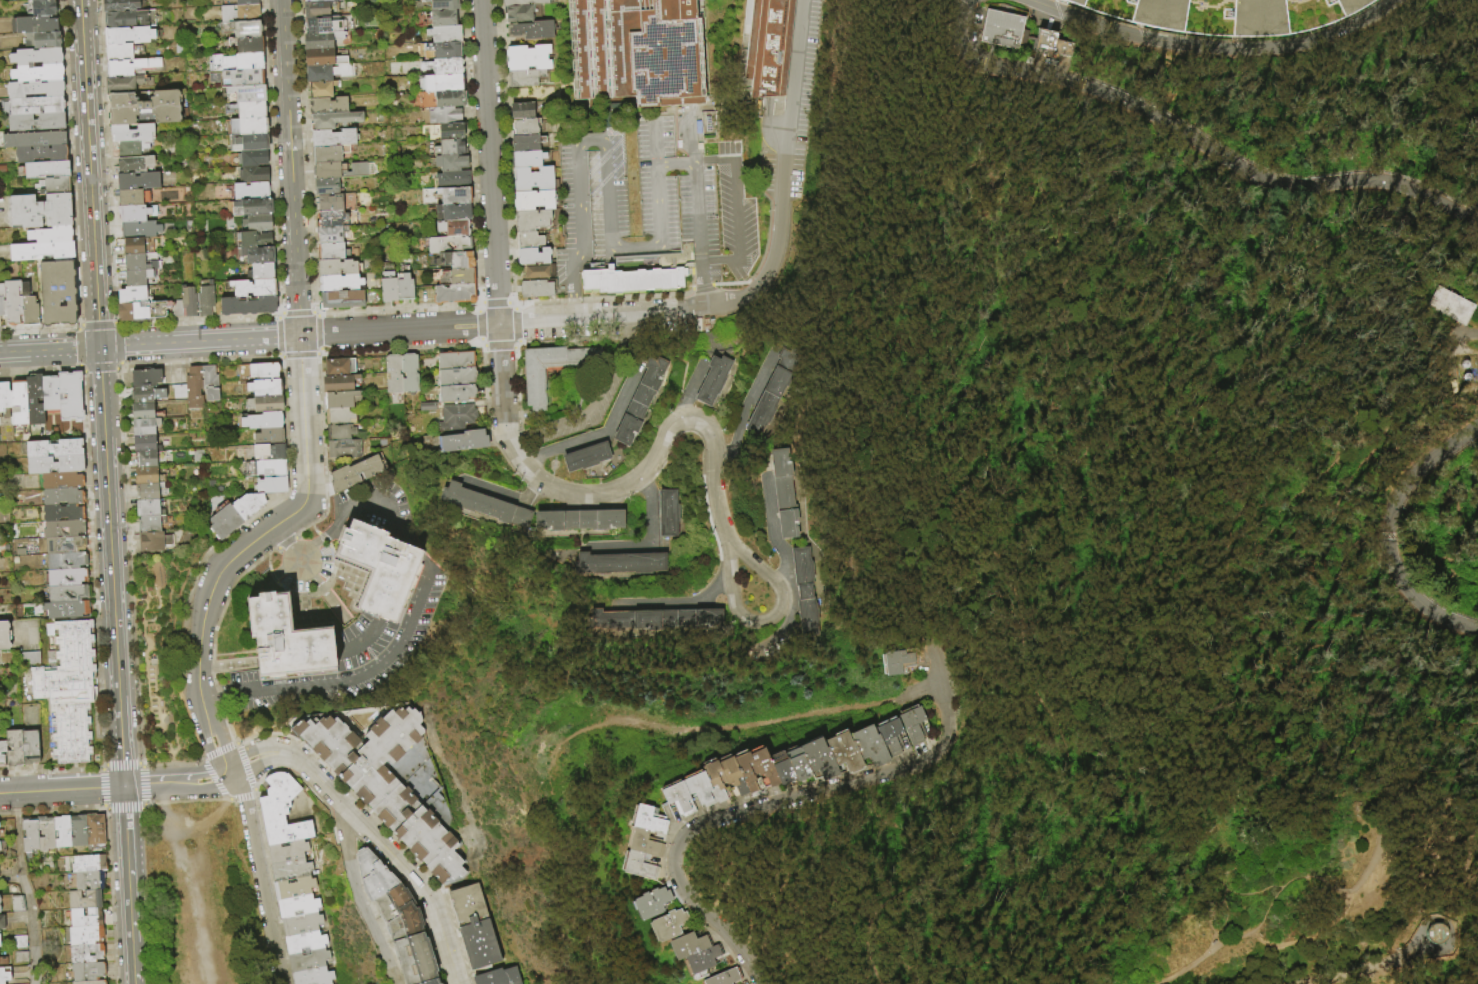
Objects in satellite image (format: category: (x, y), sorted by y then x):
building: (316, 0)
building: (524, 2)
building: (243, 3)
building: (441, 4)
building: (119, 5)
building: (43, 7)
building: (315, 9)
building: (518, 13)
building: (1320, 13)
building: (237, 14)
building: (1199, 16)
building: (128, 18)
building: (439, 19)
building: (33, 24)
building: (318, 25)
building: (243, 29)
building: (1002, 29)
building: (531, 30)
building: (127, 34)
building: (442, 34)
building: (41, 39)
building: (319, 41)
building: (1054, 44)
building: (244, 45)
road: (1213, 45)
building: (766, 46)
building: (444, 50)
road: (782, 50)
building: (118, 51)
building: (632, 51)
building: (36, 56)
building: (528, 57)
building: (320, 59)
building: (1029, 61)
building: (235, 62)
building: (130, 65)
building: (441, 67)
building: (37, 73)
building: (316, 74)
road: (565, 76)
building: (525, 77)
building: (236, 78)
building: (122, 83)
building: (441, 84)
building: (35, 88)
building: (319, 89)
building: (245, 94)
road: (1117, 97)
road: (515, 98)
building: (441, 100)
building: (35, 105)
building: (326, 106)
building: (143, 107)
building: (247, 110)
building: (521, 112)
road: (776, 112)
building: (442, 116)
building: (332, 120)
building: (36, 121)
building: (1476, 124)
building: (245, 127)
building: (523, 127)
building: (131, 132)
building: (449, 132)
road: (774, 132)
road: (590, 136)
building: (331, 138)
building: (33, 139)
road: (656, 142)
building: (250, 143)
building: (523, 143)
building: (131, 147)
building: (449, 148)
road: (470, 151)
road: (504, 151)
building: (40, 153)
building: (326, 154)
road: (270, 157)
building: (247, 159)
road: (713, 159)
building: (525, 160)
road: (681, 161)
building: (134, 163)
building: (449, 163)
road: (785, 164)
road: (290, 167)
building: (46, 168)
building: (337, 171)
road: (89, 173)
building: (251, 175)
building: (137, 180)
building: (451, 180)
building: (531, 180)
road: (1399, 184)
building: (56, 185)
building: (324, 187)
road: (1266, 187)
road: (605, 188)
parking lot: (639, 188)
building: (249, 191)
road: (1123, 194)
building: (454, 196)
building: (129, 197)
building: (532, 201)
building: (334, 203)
road: (659, 203)
road: (697, 204)
building: (730, 204)
building: (249, 207)
building: (41, 210)
road: (735, 211)
building: (451, 212)
building: (131, 213)
road: (581, 219)
building: (328, 220)
road: (491, 220)
building: (530, 221)
building: (255, 223)
building: (452, 228)
building: (139, 229)
road: (767, 229)
building: (50, 234)
building: (328, 235)
road: (308, 239)
building: (251, 240)
building: (527, 241)
road: (112, 242)
building: (137, 245)
building: (446, 245)
road: (633, 248)
building: (40, 250)
building: (329, 252)
building: (255, 255)
building: (532, 257)
road: (715, 260)
building: (453, 261)
building: (137, 262)
building: (335, 268)
road: (1067, 268)
building: (259, 272)
building: (534, 273)
road: (703, 274)
building: (136, 277)
building: (460, 277)
building: (628, 280)
building: (337, 283)
road: (701, 286)
building: (251, 288)
building: (386, 288)
building: (402, 288)
building: (535, 289)
building: (56, 292)
building: (452, 294)
building: (131, 295)
road: (611, 298)
building: (2, 300)
building: (205, 300)
building: (340, 300)
building: (189, 301)
building: (12, 302)
road: (494, 302)
road: (513, 303)
road: (572, 304)
building: (28, 305)
road: (477, 305)
building: (245, 306)
building: (1452, 306)
building: (175, 308)
building: (155, 309)
building: (130, 312)
road: (296, 312)
road: (278, 315)
road: (612, 318)
road: (117, 322)
road: (516, 324)
road: (676, 324)
road: (479, 325)
road: (398, 329)
road: (317, 332)
road: (278, 335)
road: (199, 341)
road: (480, 343)
road: (498, 345)
road: (516, 345)
traffic signals: (100, 347)
road: (49, 349)
road: (299, 355)
building: (454, 361)
building: (339, 367)
building: (256, 372)
building: (393, 374)
building: (409, 374)
building: (146, 378)
building: (456, 378)
road: (681, 379)
building: (710, 380)
building: (209, 383)
building: (339, 384)
building: (193, 388)
building: (263, 388)
road: (689, 388)
building: (532, 389)
building: (775, 391)
building: (48, 392)
building: (144, 394)
building: (456, 394)
building: (3, 395)
building: (68, 395)
building: (32, 399)
building: (340, 399)
road: (593, 401)
building: (639, 402)
building: (17, 403)
building: (264, 404)
road: (745, 406)
parking lot: (584, 408)
building: (0, 410)
building: (143, 411)
road: (303, 414)
building: (339, 416)
building: (458, 416)
building: (261, 421)
building: (145, 426)
building: (340, 433)
building: (268, 436)
road: (598, 436)
road: (322, 440)
building: (462, 442)
building: (145, 444)
building: (344, 449)
building: (52, 450)
road: (660, 450)
building: (268, 452)
building: (584, 458)
building: (145, 459)
building: (52, 466)
building: (269, 468)
building: (354, 473)
road: (1415, 475)
building: (145, 476)
road: (1063, 480)
building: (59, 482)
building: (271, 485)
building: (146, 491)
road: (506, 494)
building: (785, 494)
building: (60, 499)
building: (245, 506)
building: (487, 506)
building: (148, 508)
road: (377, 510)
road: (1454, 511)
building: (60, 514)
building: (668, 514)
building: (581, 521)
building: (222, 522)
building: (149, 524)
road: (306, 525)
road: (89, 526)
building: (61, 530)
road: (330, 530)
road: (772, 531)
road: (322, 536)
park: (1077, 536)
building: (155, 541)
road: (285, 542)
road: (652, 543)
road: (289, 544)
building: (62, 546)
road: (250, 547)
road: (1454, 554)
road: (1426, 559)
road: (730, 560)
road: (267, 561)
building: (63, 562)
building: (621, 564)
road: (112, 566)
building: (383, 568)
road: (1472, 572)
road: (271, 576)
road: (1218, 576)
building: (64, 578)
road: (321, 587)
building: (806, 592)
building: (64, 594)
road: (675, 601)
road: (1419, 602)
road: (783, 606)
building: (63, 610)
building: (655, 620)
road: (212, 634)
building: (4, 636)
building: (285, 641)
building: (28, 658)
building: (900, 661)
road: (360, 678)
road: (926, 691)
building: (66, 693)
road: (214, 693)
building: (911, 724)
road: (717, 727)
road: (1332, 737)
road: (242, 741)
building: (908, 741)
road: (237, 744)
building: (30, 747)
building: (14, 748)
building: (888, 748)
road: (220, 750)
road: (201, 751)
building: (0, 754)
building: (868, 756)
building: (842, 760)
building: (365, 761)
road: (174, 762)
road: (140, 763)
road: (121, 764)
road: (101, 765)
building: (816, 765)
road: (246, 767)
building: (761, 767)
road: (50, 769)
building: (726, 769)
building: (795, 769)
building: (779, 771)
building: (745, 773)
building: (711, 777)
road: (216, 780)
road: (142, 784)
road: (178, 784)
building: (695, 784)
traffic signals: (124, 787)
road: (102, 788)
road: (62, 790)
building: (672, 791)
road: (242, 794)
road: (242, 795)
road: (143, 805)
road: (103, 806)
road: (124, 808)
road: (106, 809)
road: (776, 809)
building: (280, 812)
building: (633, 825)
building: (93, 830)
building: (76, 831)
building: (60, 832)
road: (371, 833)
building: (44, 834)
building: (28, 835)
road: (1376, 841)
road: (1431, 841)
building: (428, 847)
building: (1, 849)
building: (630, 849)
building: (286, 852)
building: (87, 864)
building: (289, 870)
road: (1316, 870)
building: (624, 871)
building: (369, 876)
building: (88, 881)
road: (129, 885)
road: (110, 886)
road: (1253, 886)
road: (25, 888)
building: (292, 888)
park: (201, 897)
road: (358, 898)
building: (83, 899)
building: (650, 902)
road: (1266, 902)
building: (15, 905)
building: (296, 907)
road: (839, 909)
building: (633, 910)
building: (393, 913)
building: (85, 918)
road: (1325, 919)
building: (2, 922)
building: (300, 924)
building: (666, 924)
building: (472, 928)
road: (1234, 930)
building: (650, 931)
building: (1438, 935)
building: (84, 936)
building: (17, 942)
building: (303, 943)
building: (671, 951)
road: (1198, 952)
building: (85, 954)
building: (19, 958)
building: (410, 959)
building: (3, 961)
building: (307, 961)
building: (685, 966)
road: (1347, 966)
building: (83, 972)
road: (1165, 975)
building: (4, 976)
building: (312, 977)
building: (497, 978)
building: (714, 980)
building: (88, 982)
building: (429, 982)

